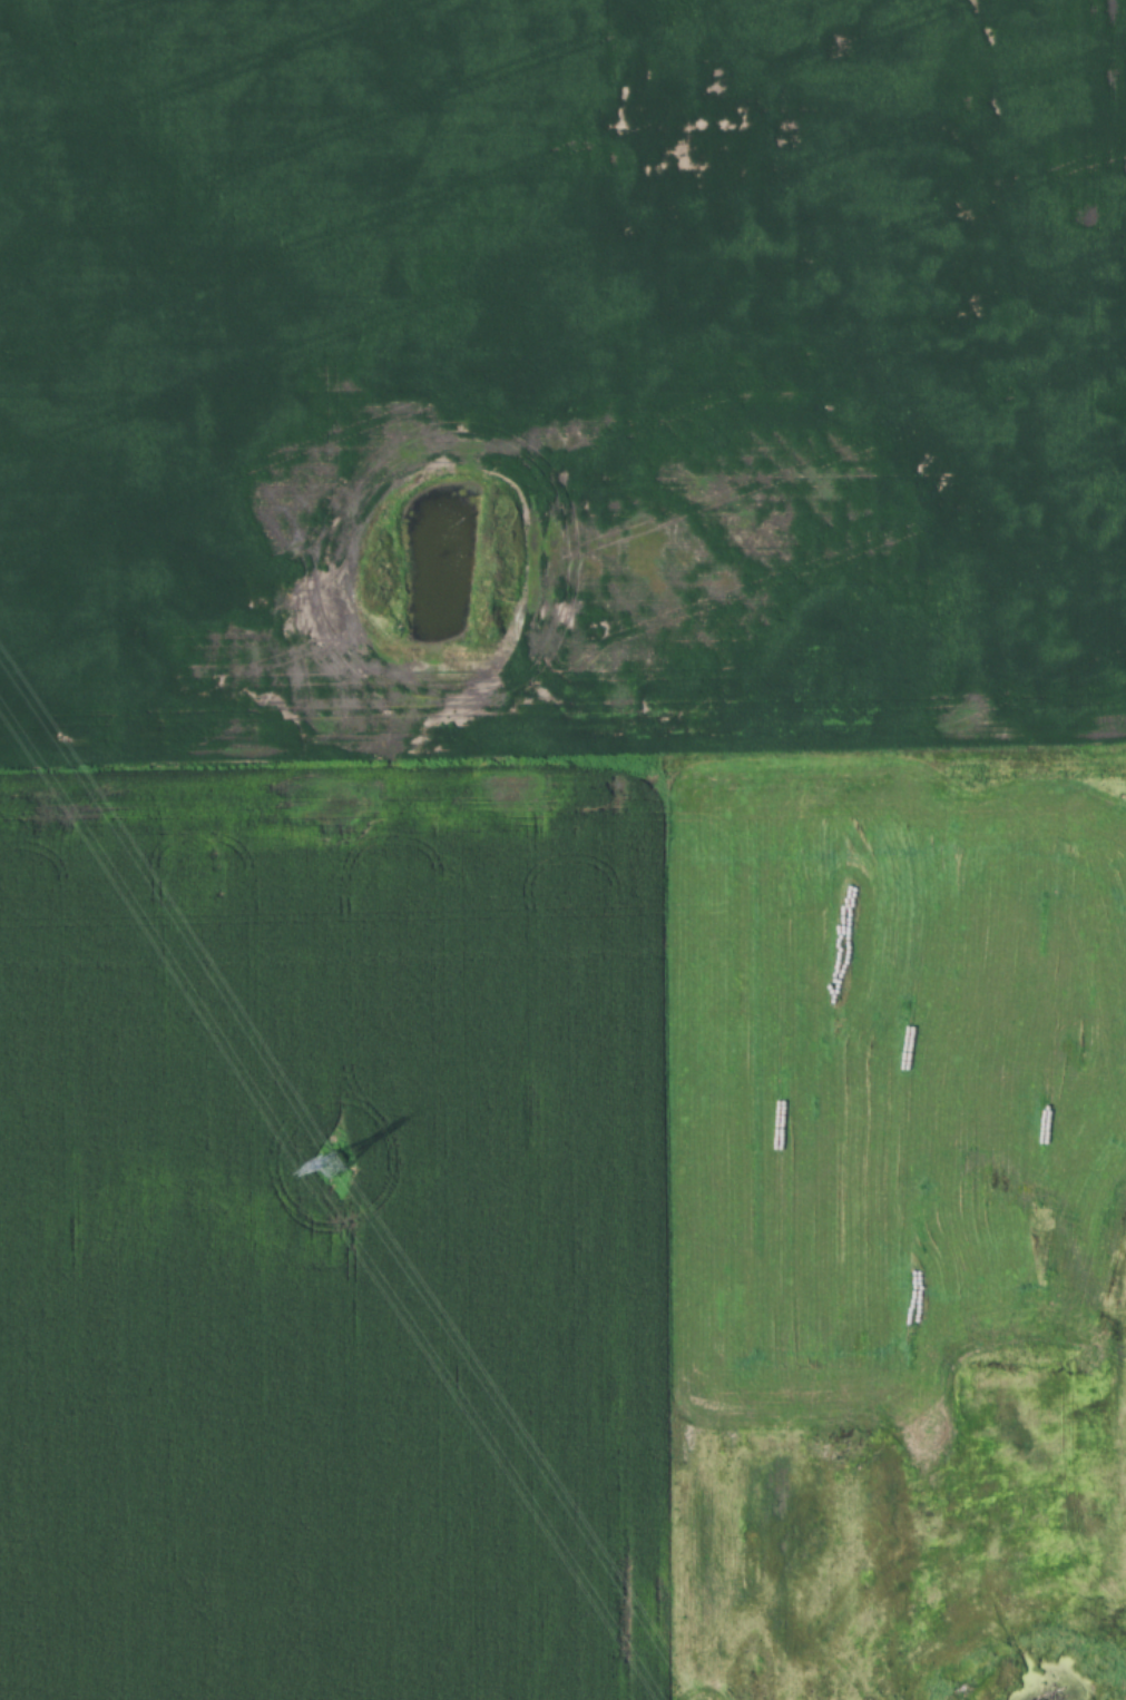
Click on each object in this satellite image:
power tower: (333, 1167)

